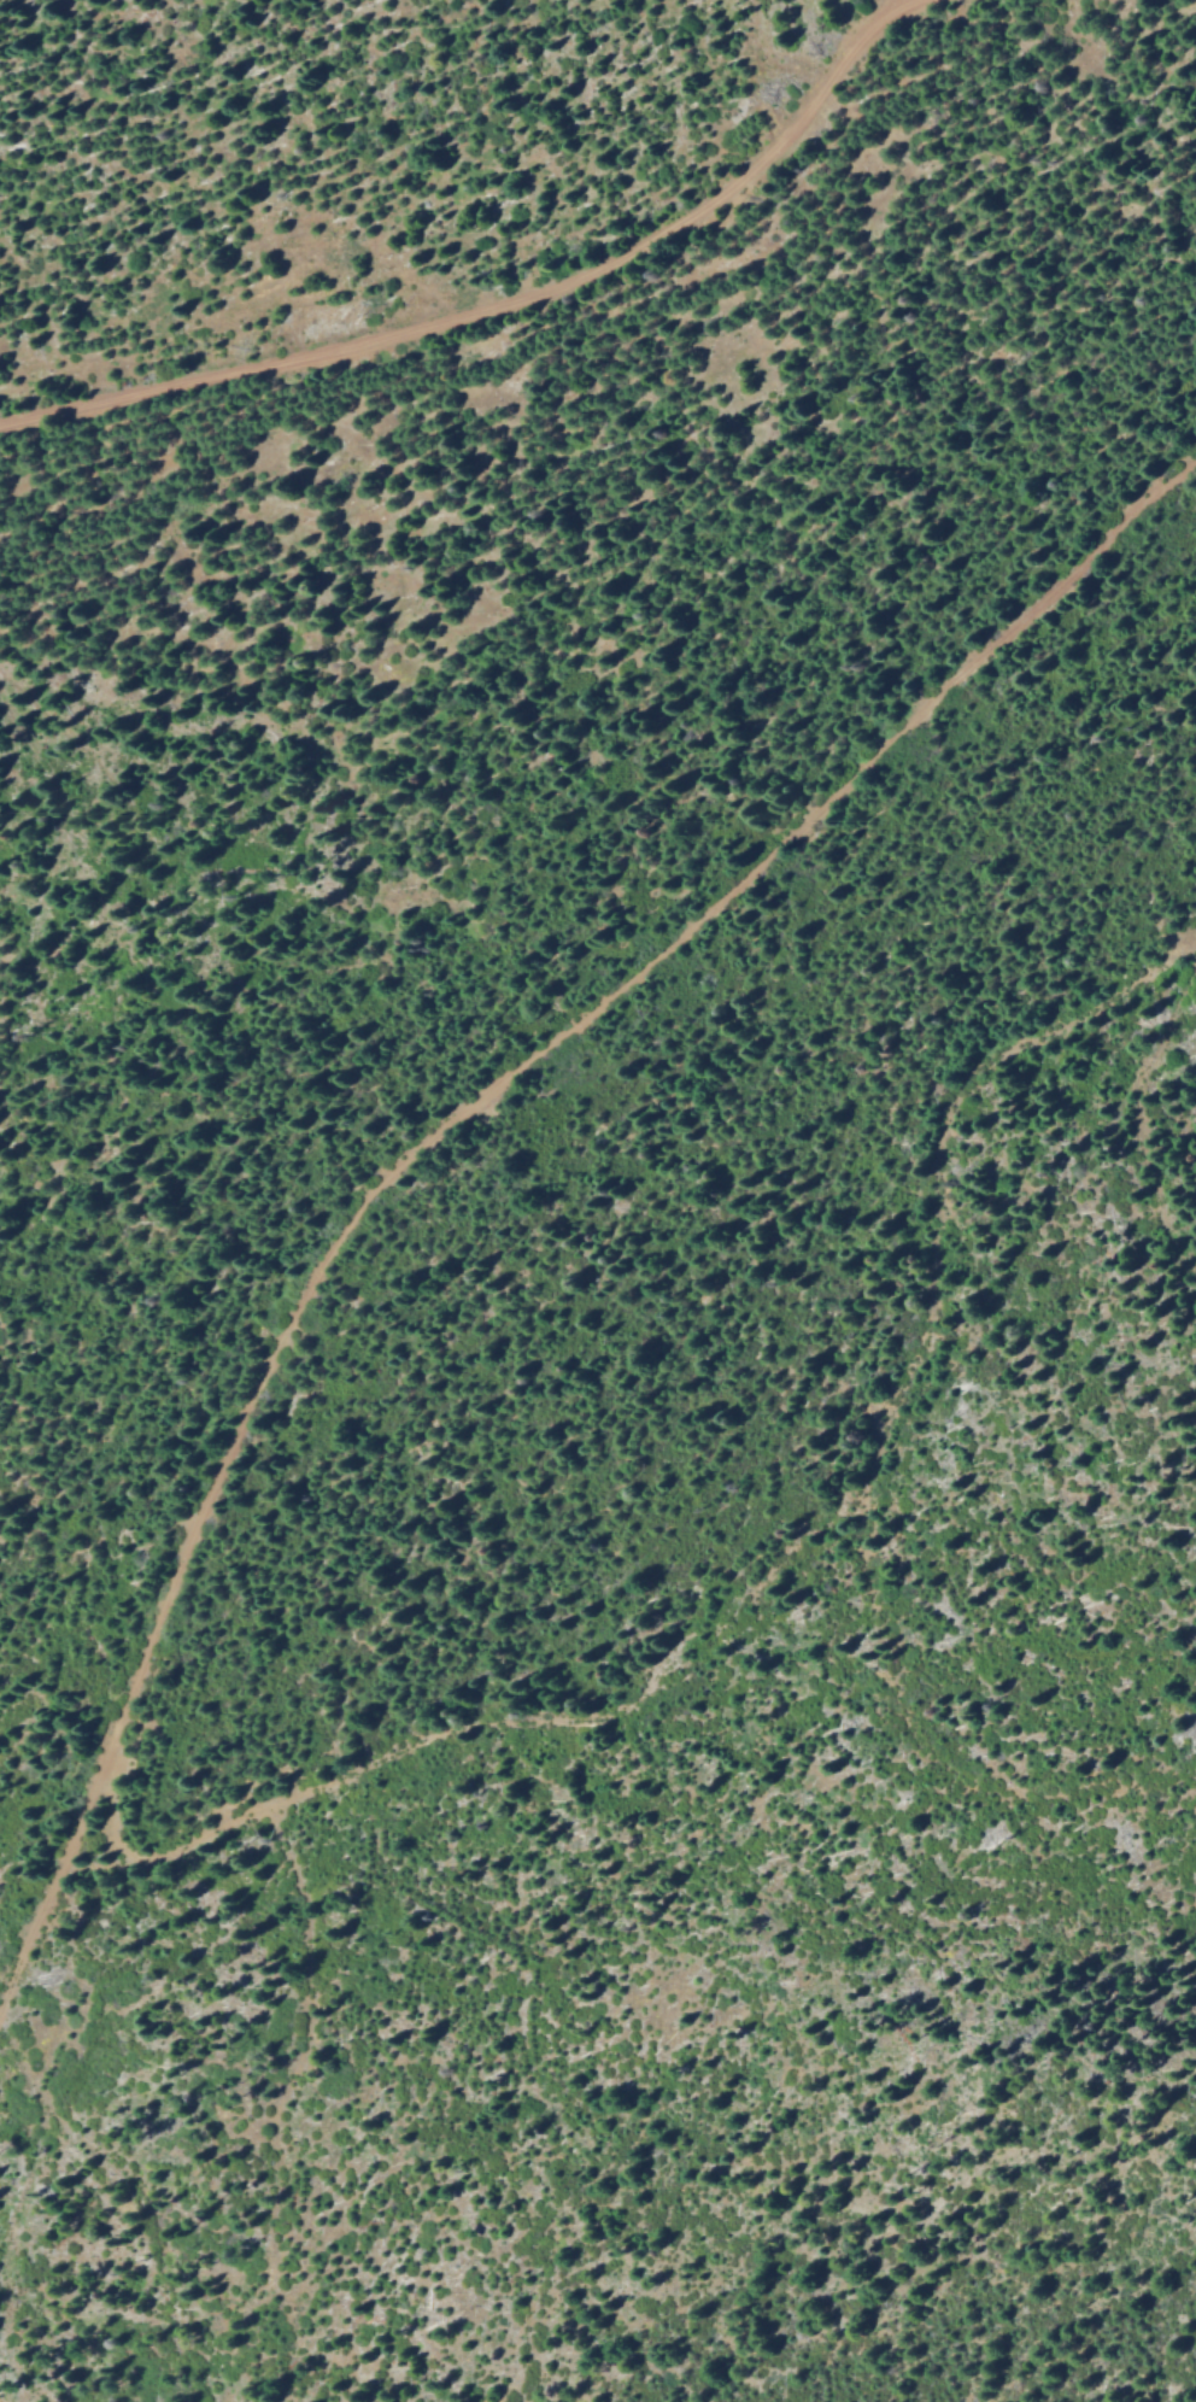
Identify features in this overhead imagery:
road: (498, 305)
road: (545, 350)
road: (442, 1114)
road: (780, 1556)

